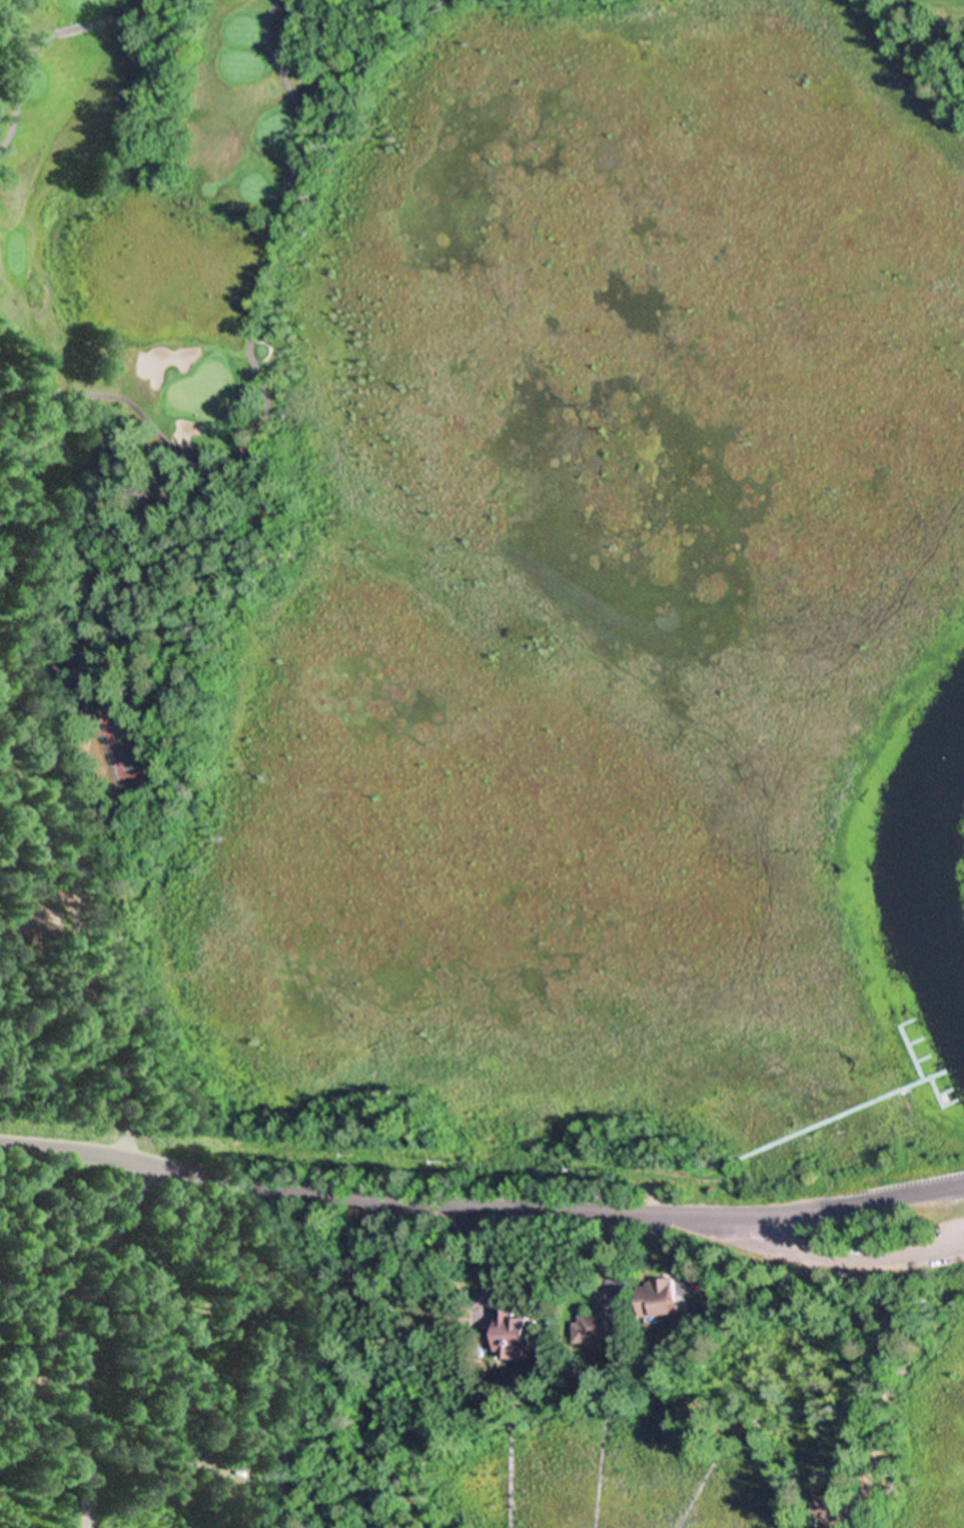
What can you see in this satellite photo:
park: (440, 232)
building: (57, 681)
river: (922, 849)
road: (109, 899)
building: (34, 927)
road: (480, 1201)
road: (842, 1259)
building: (664, 1295)
building: (601, 1326)
building: (518, 1335)
road: (92, 1337)
road: (890, 1382)
building: (281, 1476)

